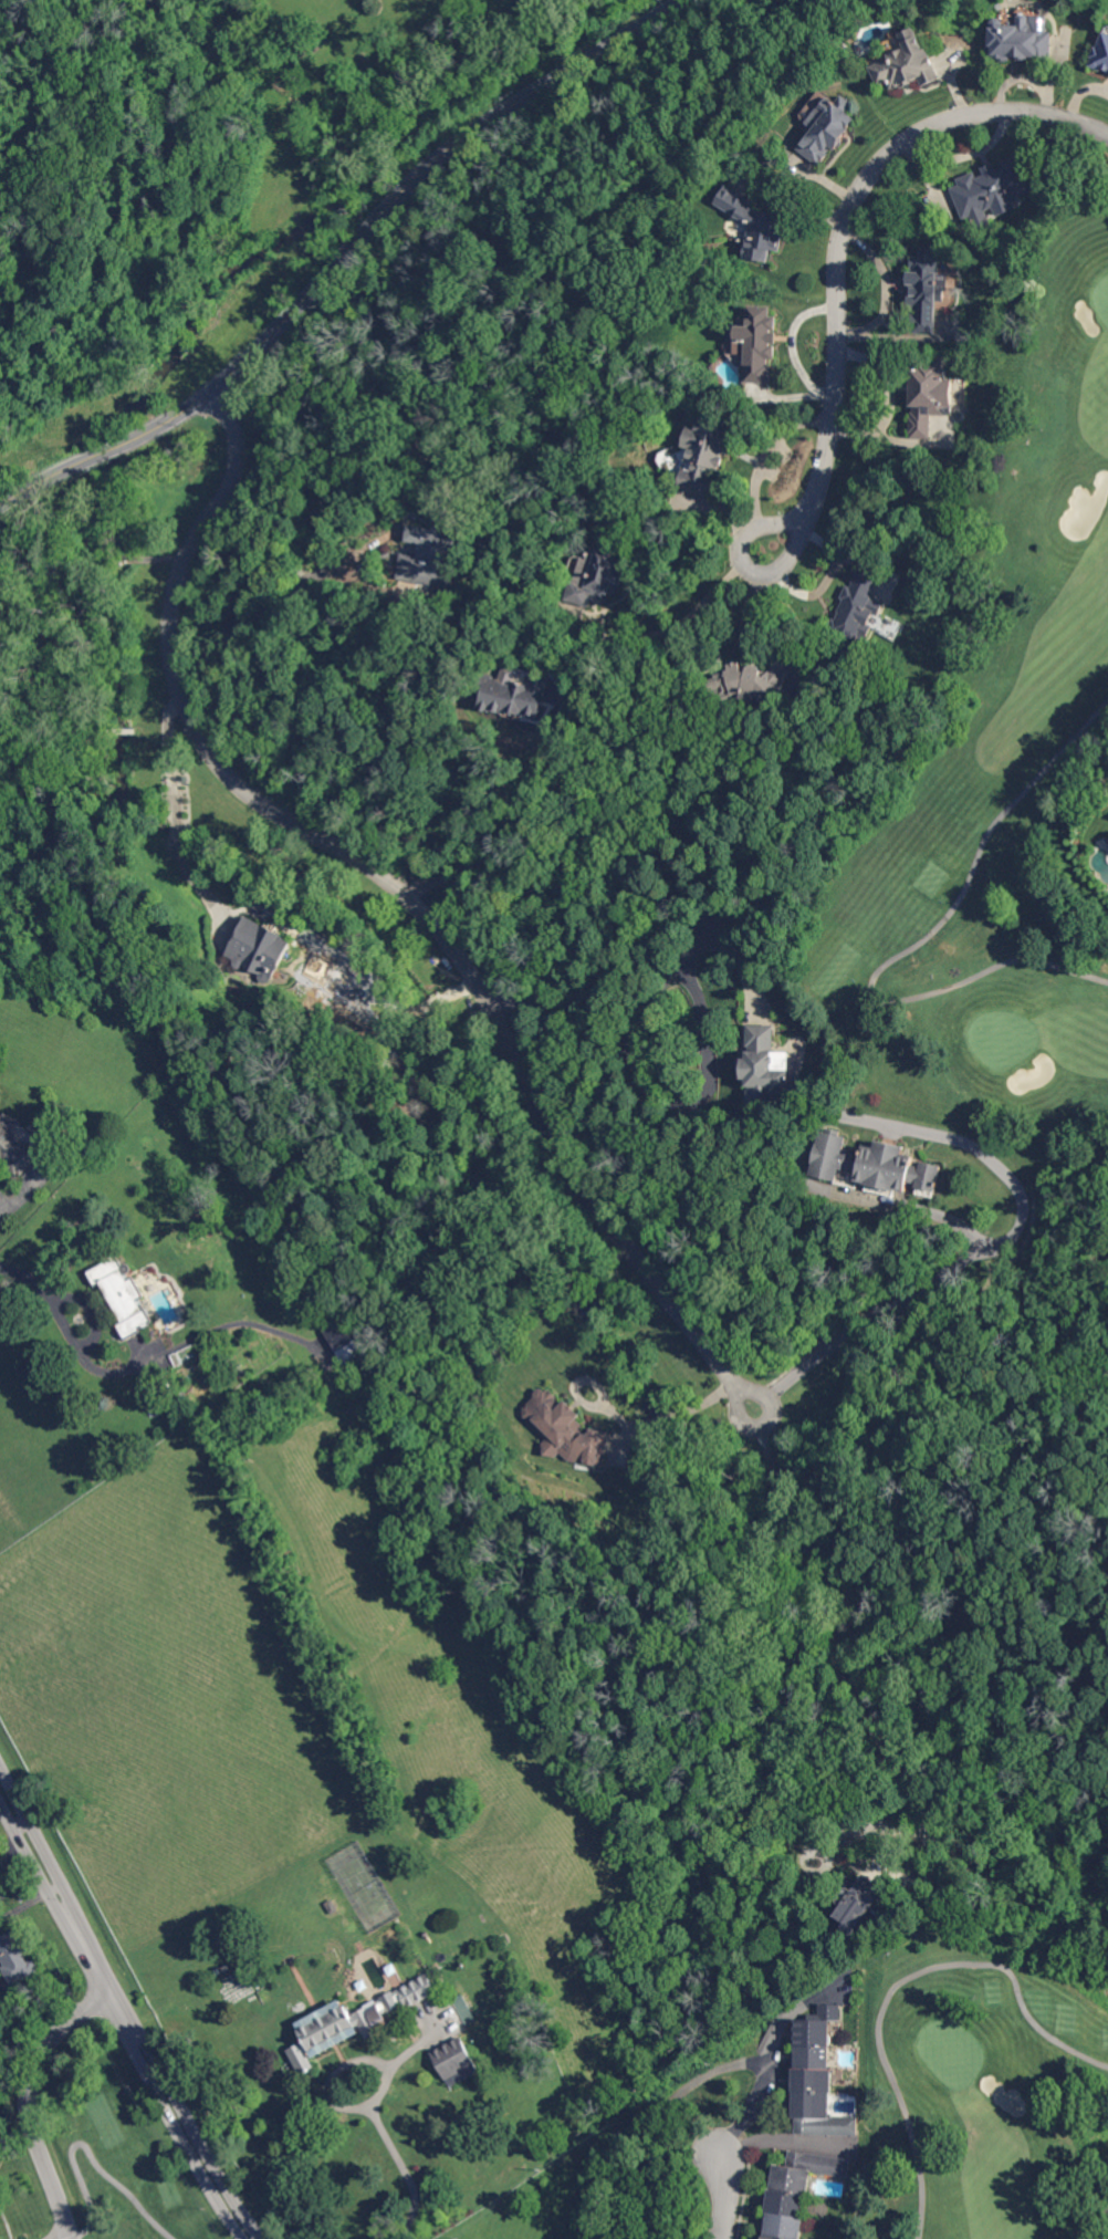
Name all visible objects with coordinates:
building: (1020, 39)
building: (1101, 54)
building: (908, 63)
building: (829, 128)
building: (992, 190)
building: (756, 226)
road: (843, 241)
road: (342, 258)
building: (927, 290)
building: (757, 343)
road: (793, 344)
building: (929, 393)
building: (704, 454)
building: (431, 556)
building: (598, 579)
building: (857, 610)
road: (254, 614)
road: (687, 616)
building: (756, 681)
building: (514, 695)
road: (522, 814)
road: (178, 815)
road: (403, 893)
road: (911, 946)
building: (261, 950)
road: (649, 1017)
building: (19, 1063)
building: (767, 1070)
building: (15, 1145)
building: (872, 1163)
road: (20, 1197)
road: (6, 1200)
park: (585, 1264)
road: (938, 1281)
building: (123, 1293)
building: (345, 1342)
road: (142, 1362)
road: (673, 1413)
building: (567, 1430)
building: (432, 1490)
road: (891, 1668)
building: (861, 1903)
building: (333, 1907)
building: (17, 1957)
building: (393, 1970)
building: (363, 1987)
road: (897, 1987)
road: (127, 2004)
building: (466, 2010)
road: (119, 2020)
building: (354, 2021)
building: (820, 2027)
building: (815, 2058)
building: (456, 2062)
road: (770, 2065)
building: (815, 2081)
road: (32, 2099)
building: (815, 2104)
building: (827, 2125)
road: (380, 2128)
road: (92, 2154)
building: (807, 2170)
road: (729, 2195)
building: (787, 2204)
building: (786, 2226)
building: (772, 2238)

